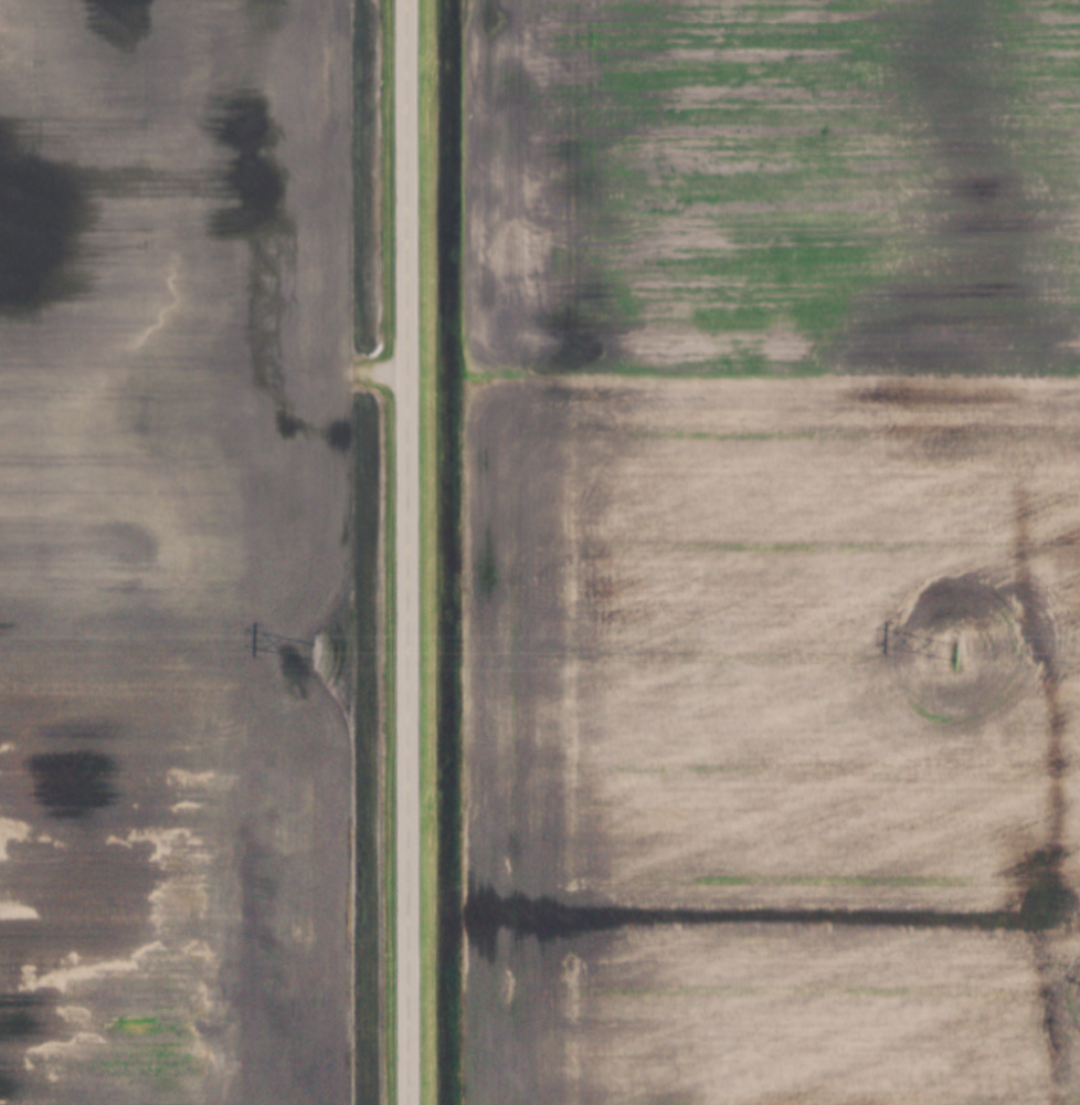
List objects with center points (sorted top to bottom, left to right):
crop: (771, 550)
road: (410, 552)
crop: (176, 555)
power tower: (314, 653)
power tower: (959, 654)

